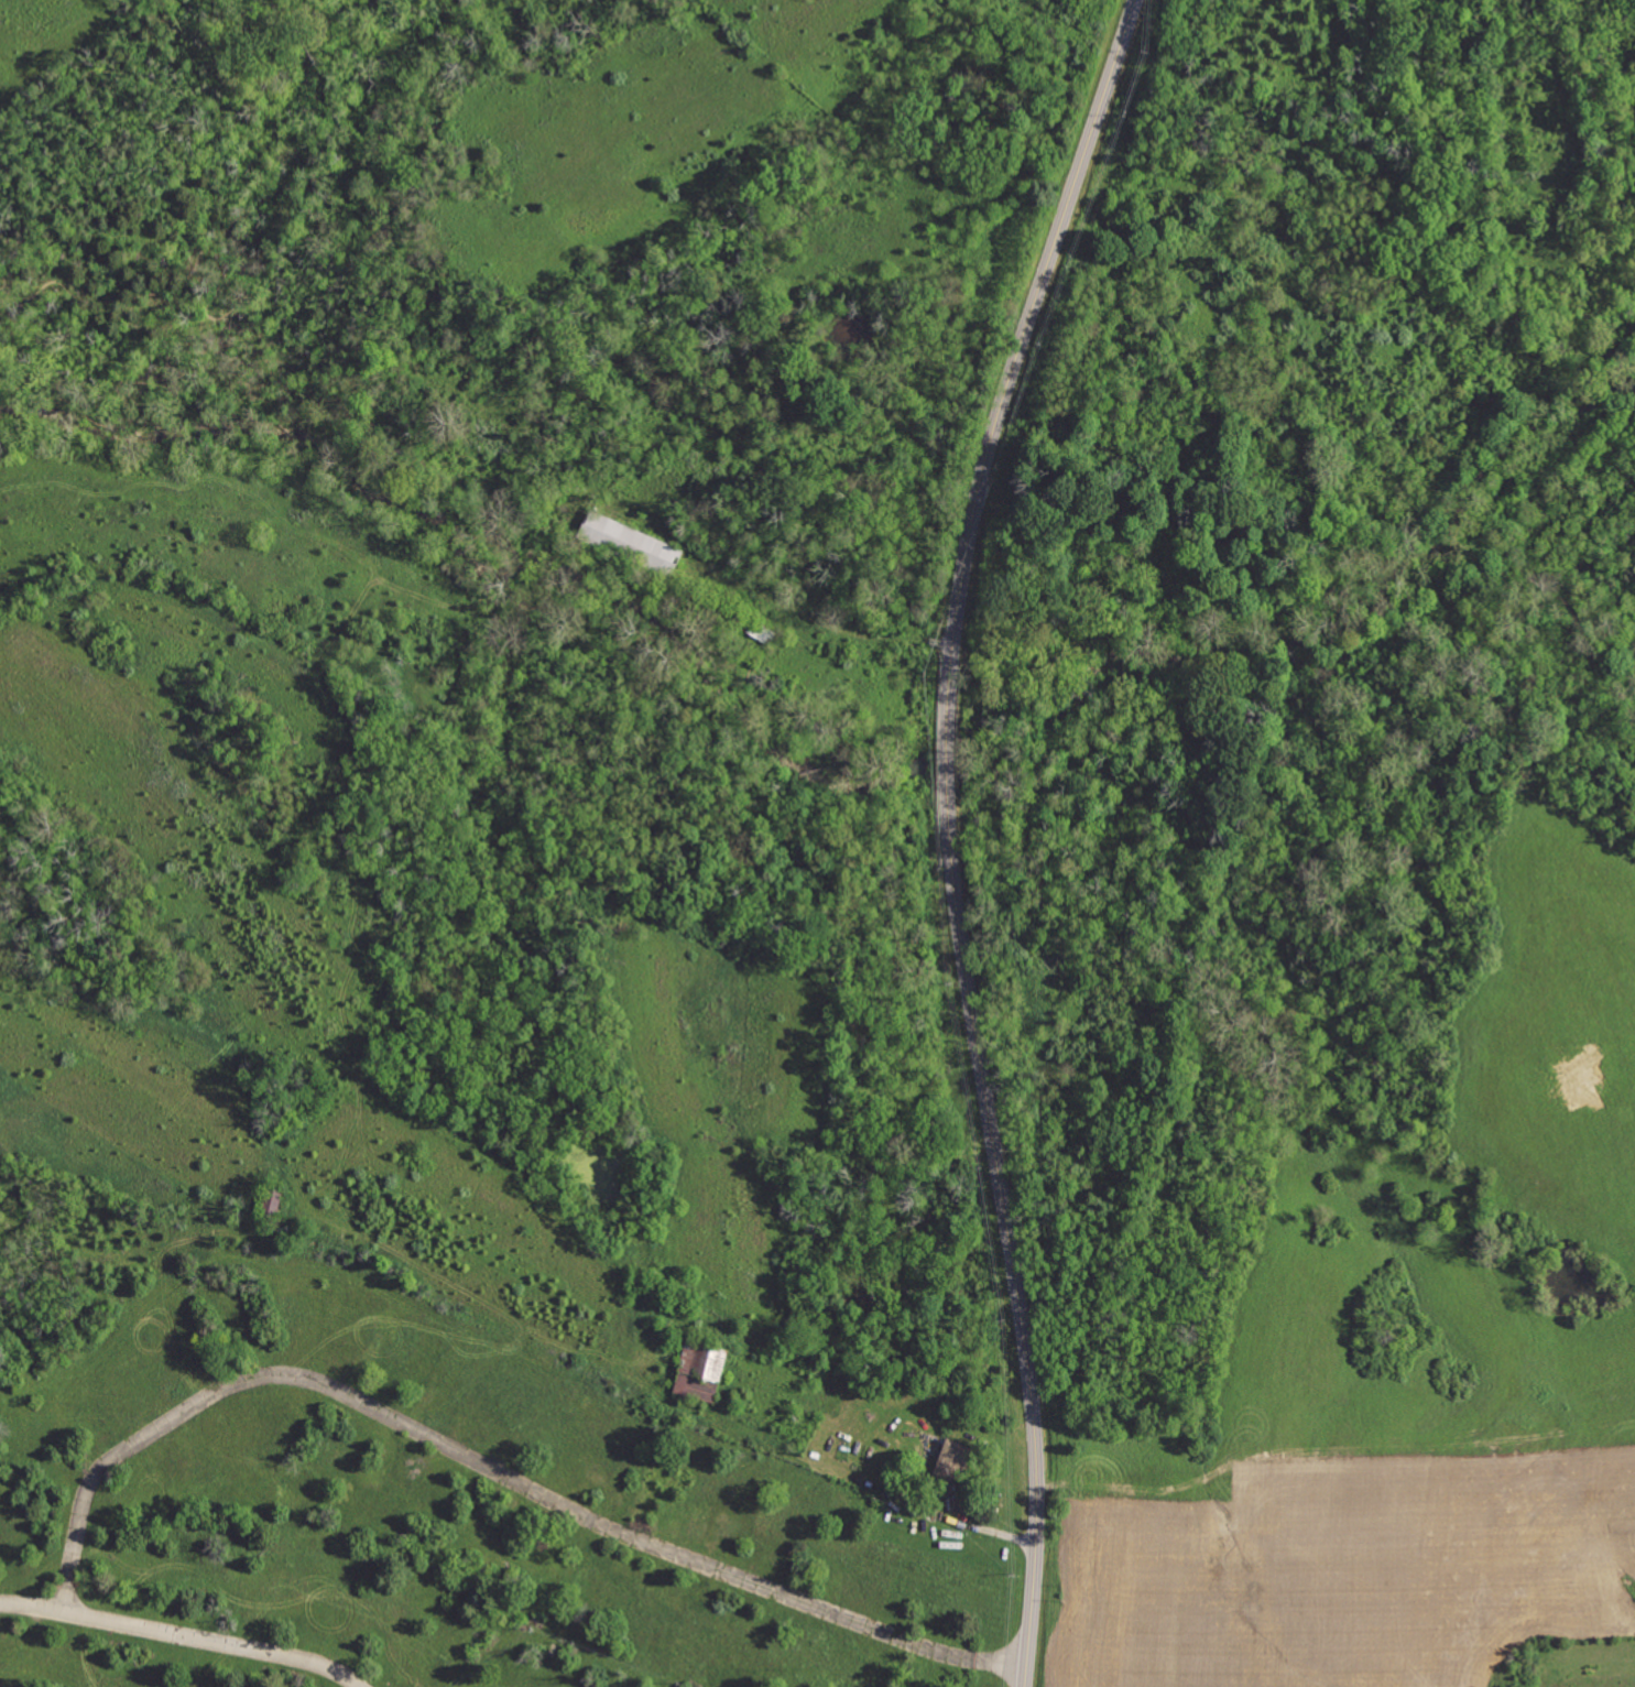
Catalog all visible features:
park: (172, 330)
building: (631, 540)
road: (824, 620)
road: (951, 832)
crop: (190, 1011)
building: (273, 1200)
building: (702, 1371)
crop: (1398, 1374)
building: (955, 1458)
road: (486, 1467)
road: (182, 1635)

